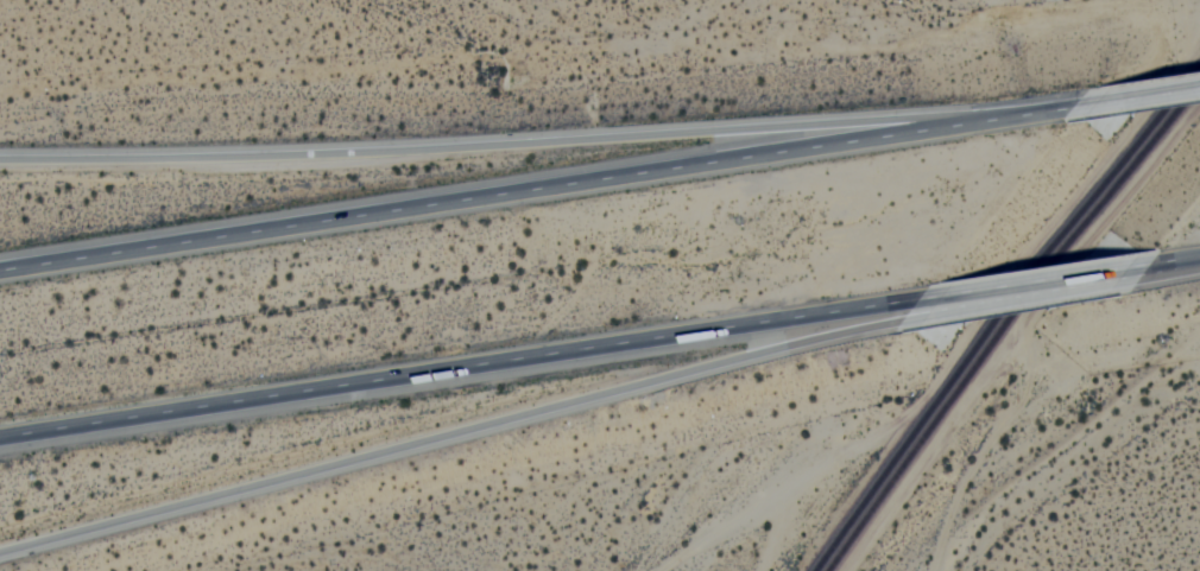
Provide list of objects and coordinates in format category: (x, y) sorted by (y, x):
road: (1138, 97)
road: (519, 142)
road: (538, 190)
road: (1175, 259)
railway: (1028, 277)
road: (1034, 280)
road: (998, 303)
railway: (1006, 323)
road: (459, 367)
road: (449, 434)
road: (985, 448)
road: (802, 475)
railway: (844, 533)

